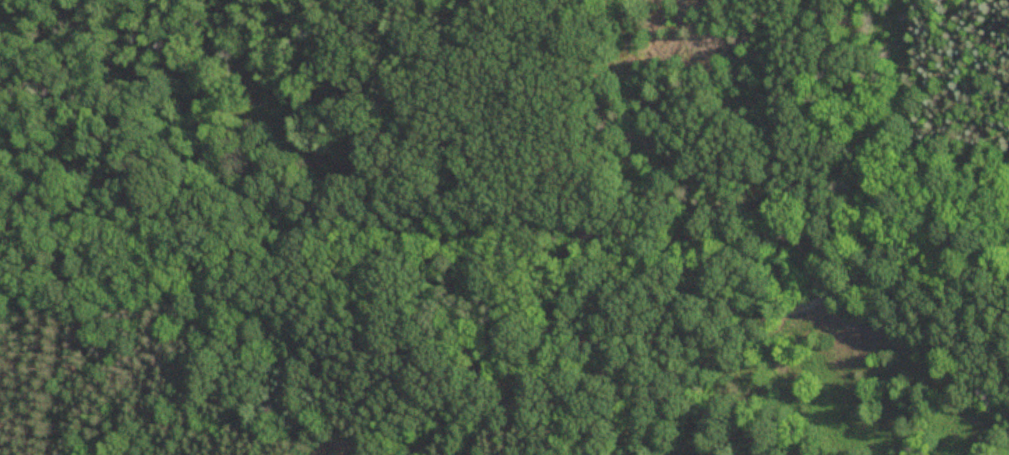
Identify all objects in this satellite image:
road: (504, 228)

